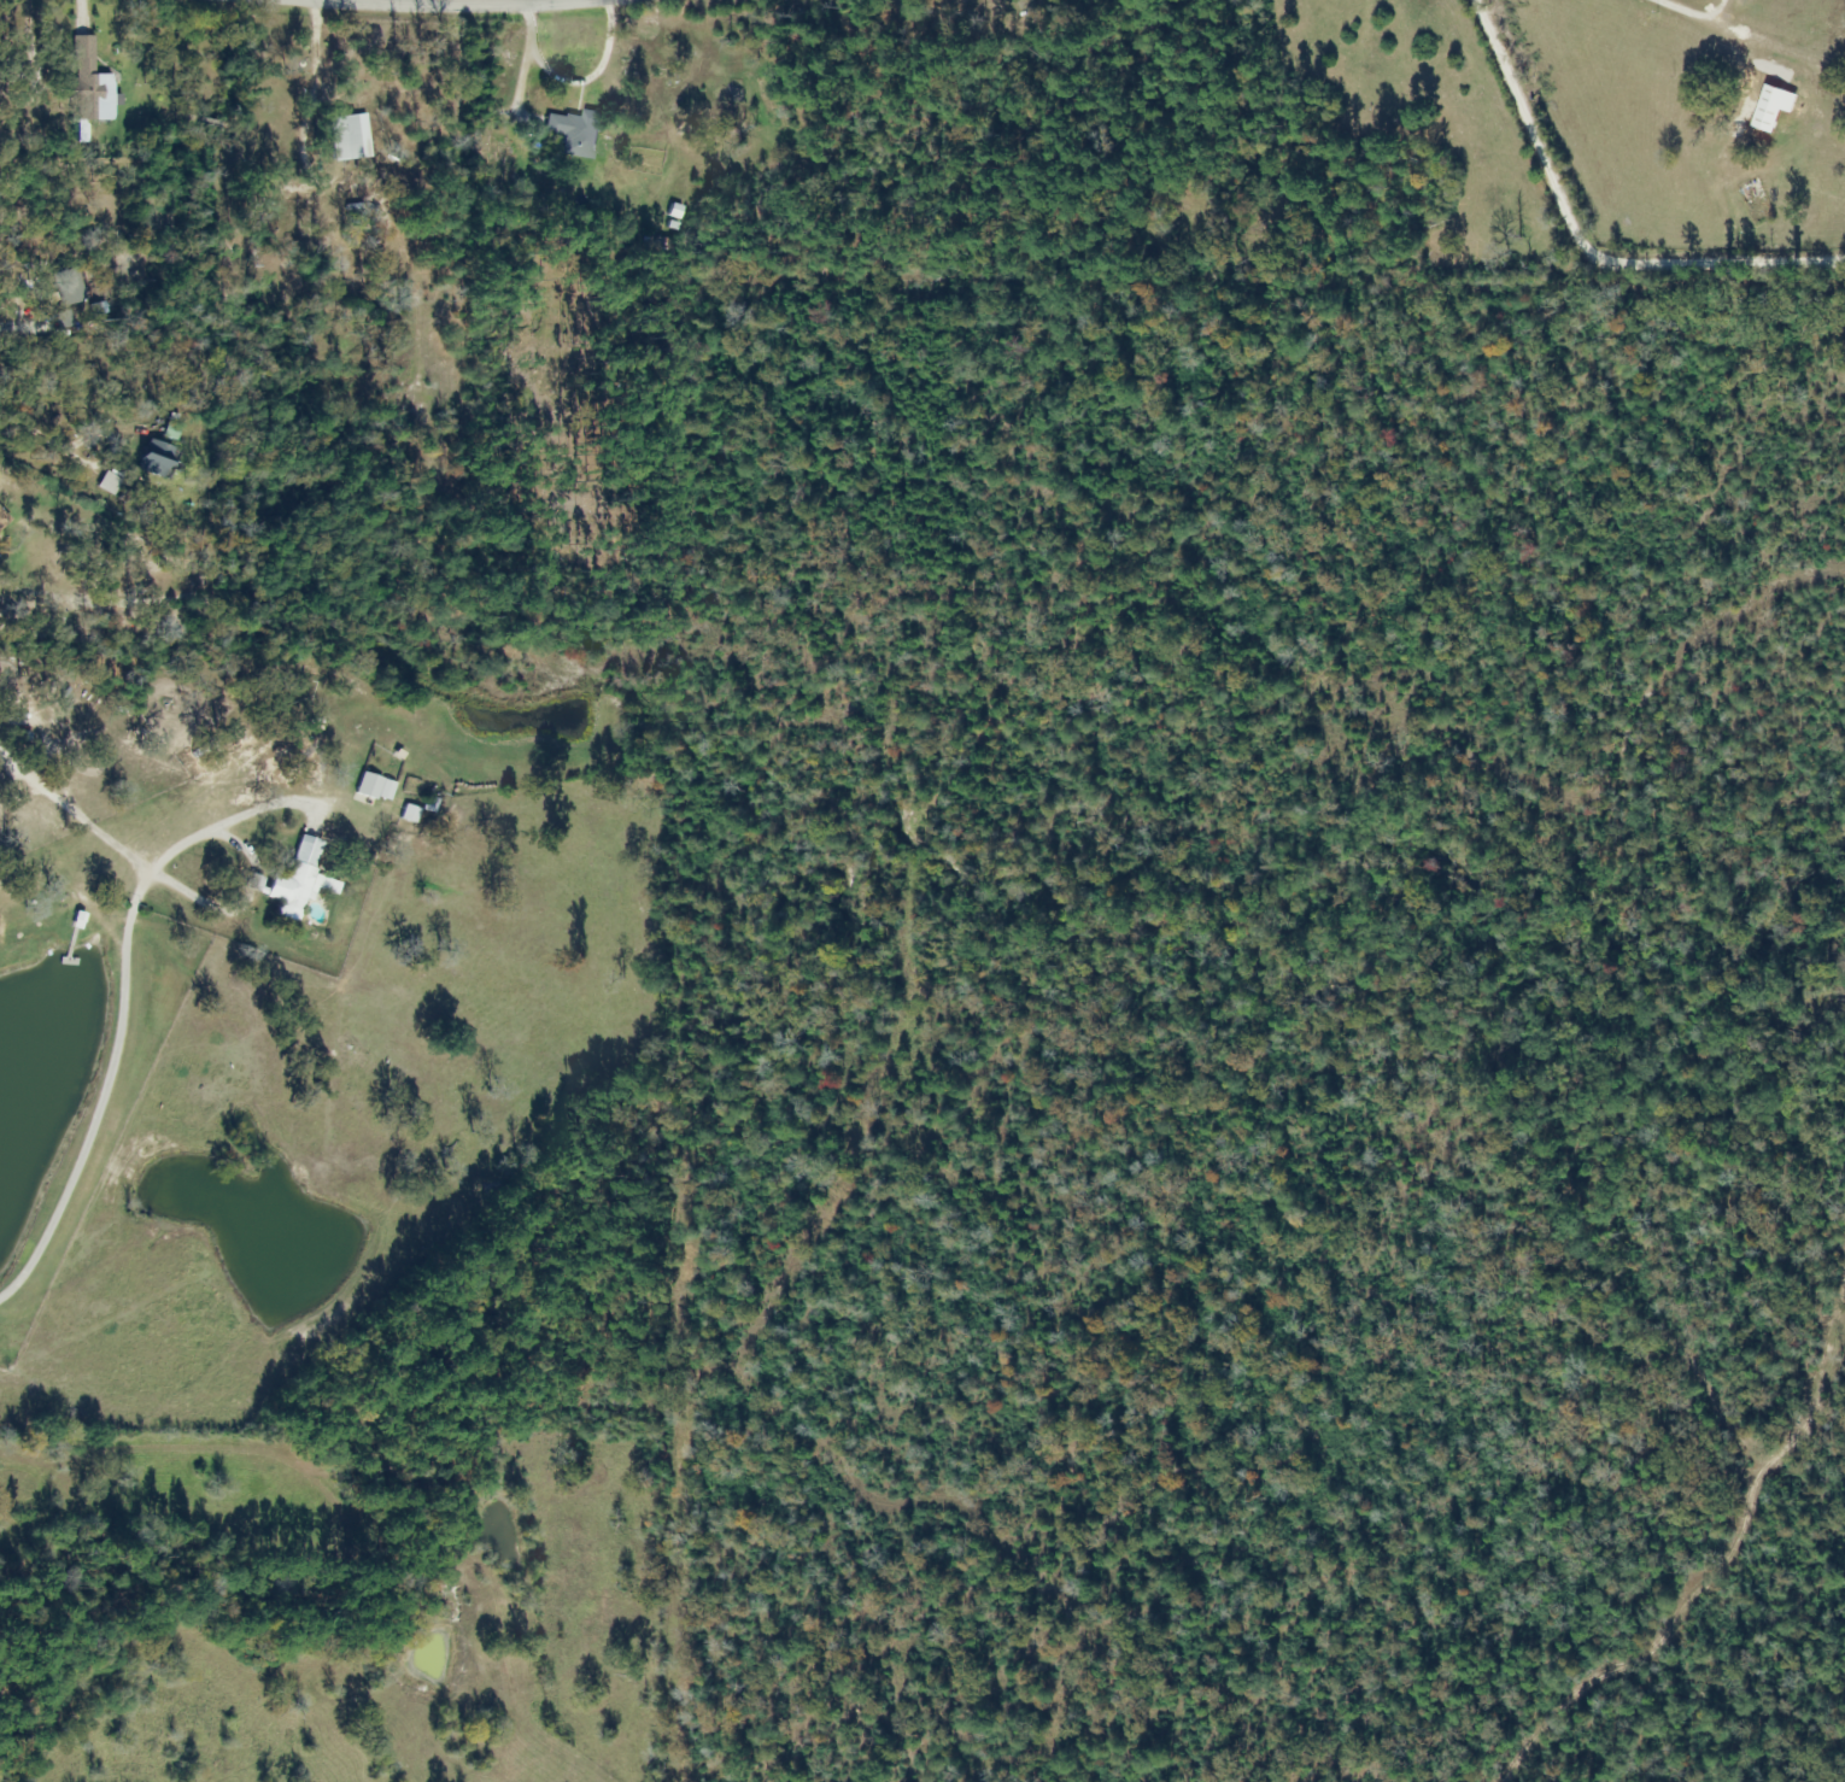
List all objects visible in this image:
road: (451, 6)
building: (87, 77)
building: (575, 134)
building: (347, 139)
building: (1755, 203)
road: (1581, 244)
building: (657, 247)
building: (69, 288)
building: (153, 459)
building: (107, 483)
building: (2, 520)
building: (379, 789)
building: (415, 809)
building: (294, 883)

